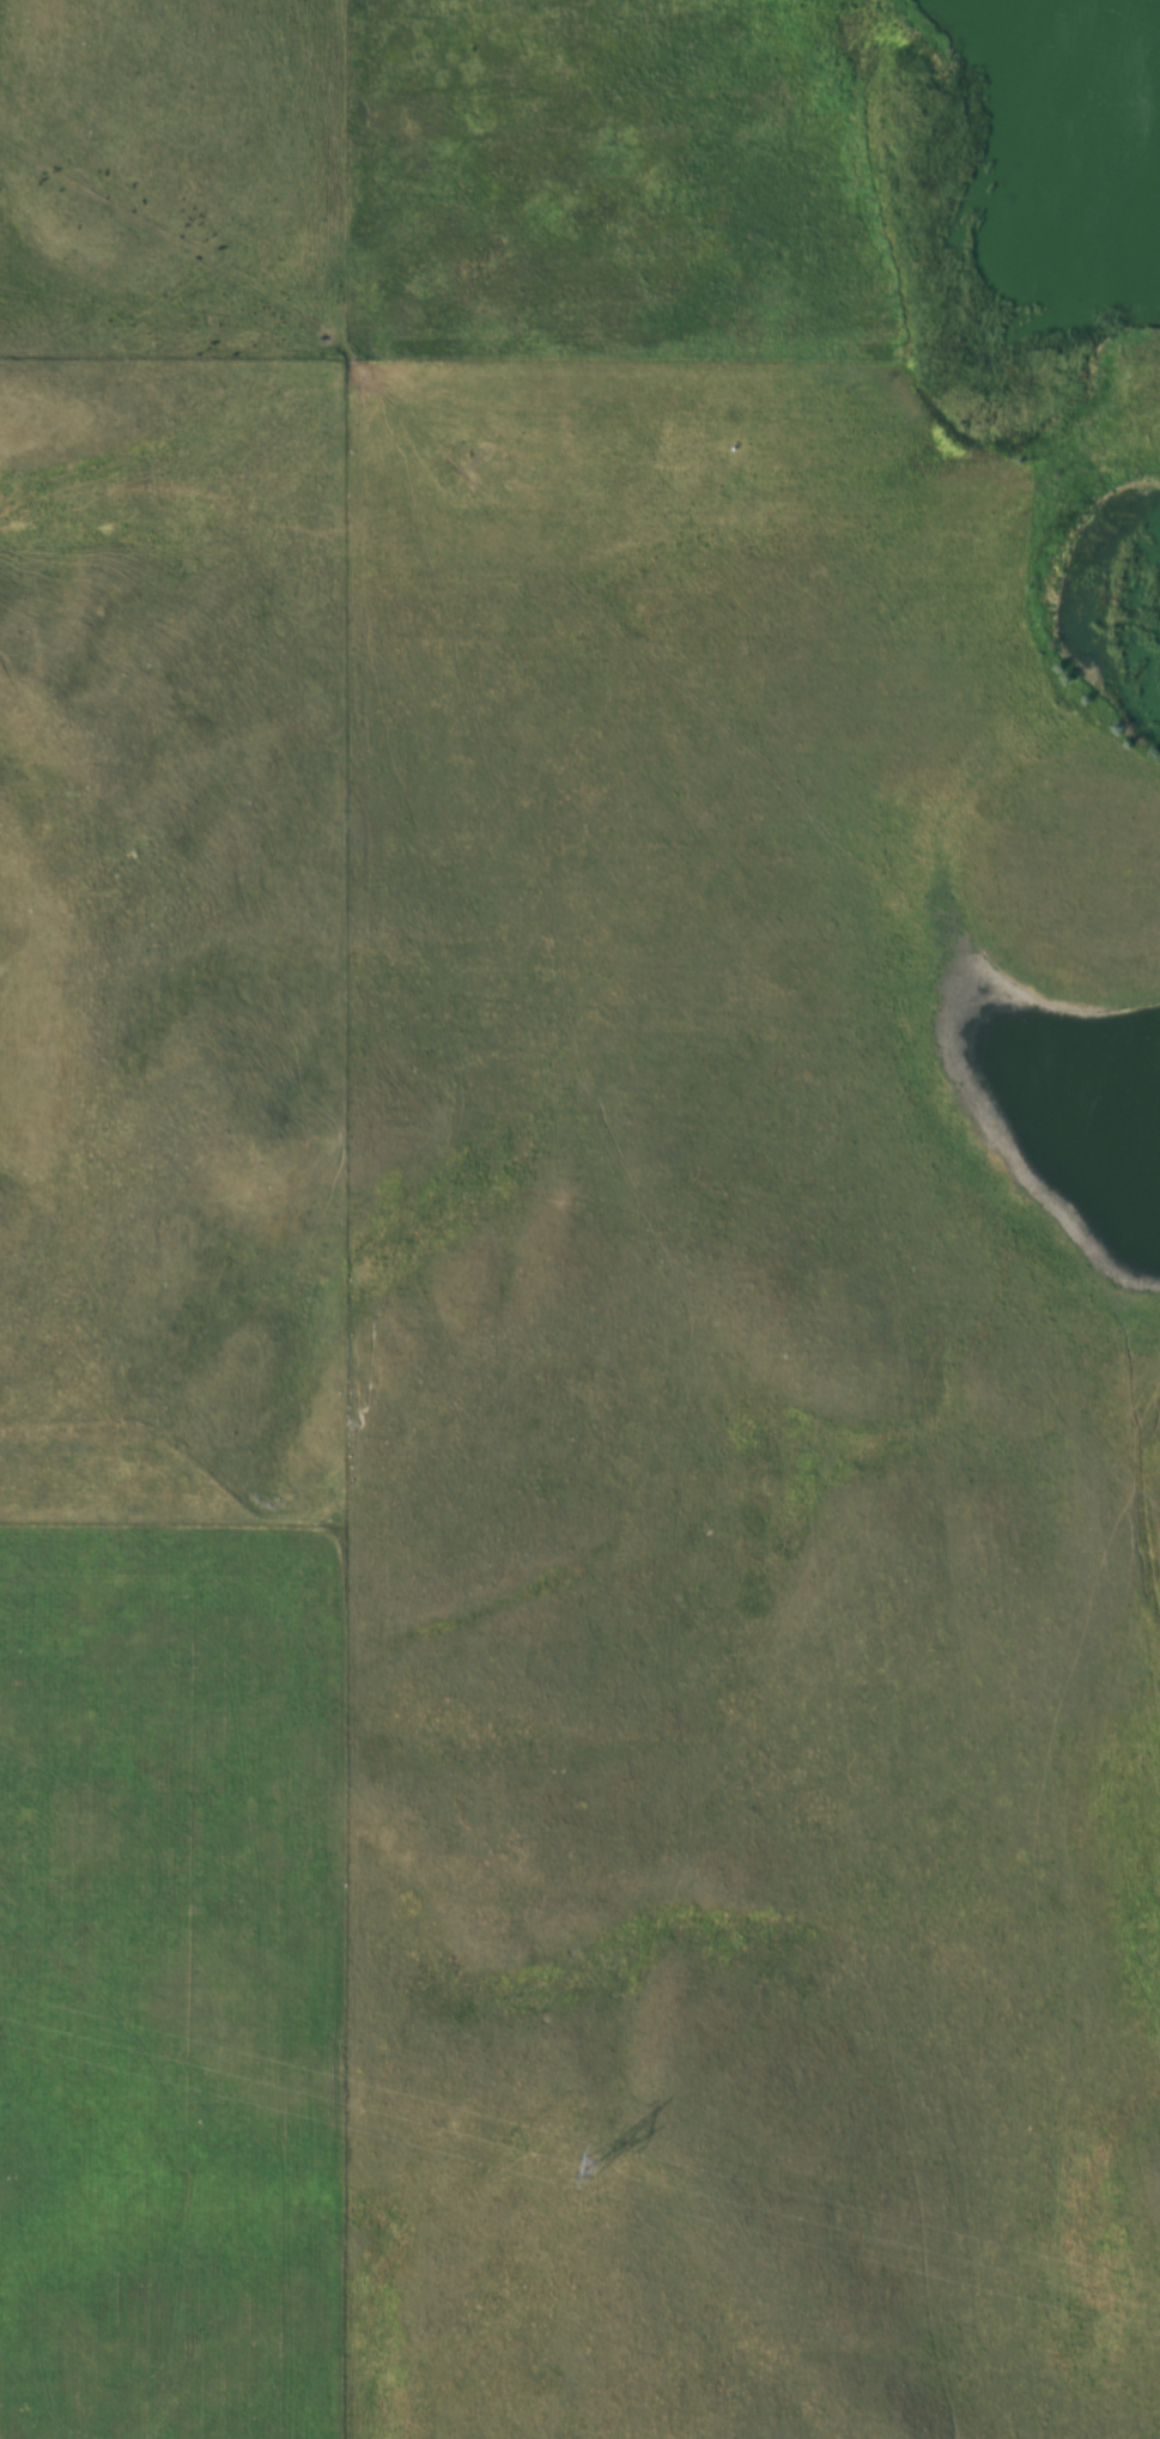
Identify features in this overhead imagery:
power tower: (589, 2148)

